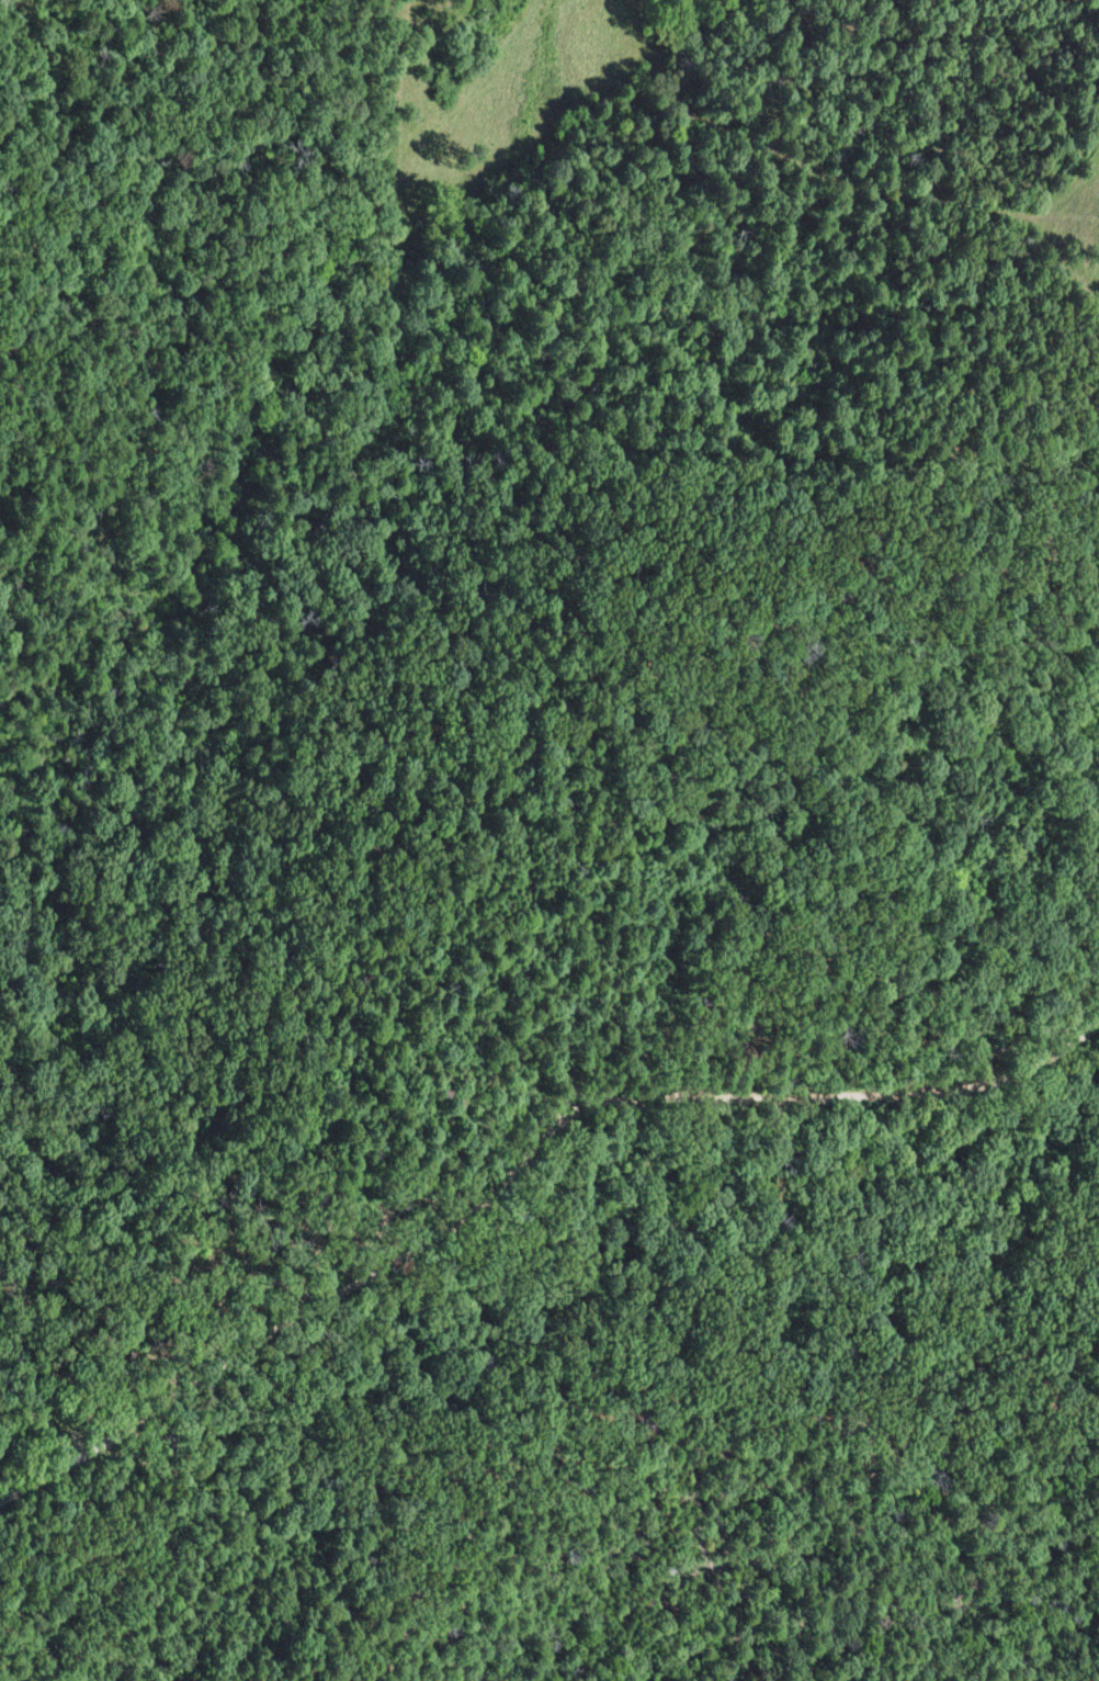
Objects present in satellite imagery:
road: (517, 1157)

